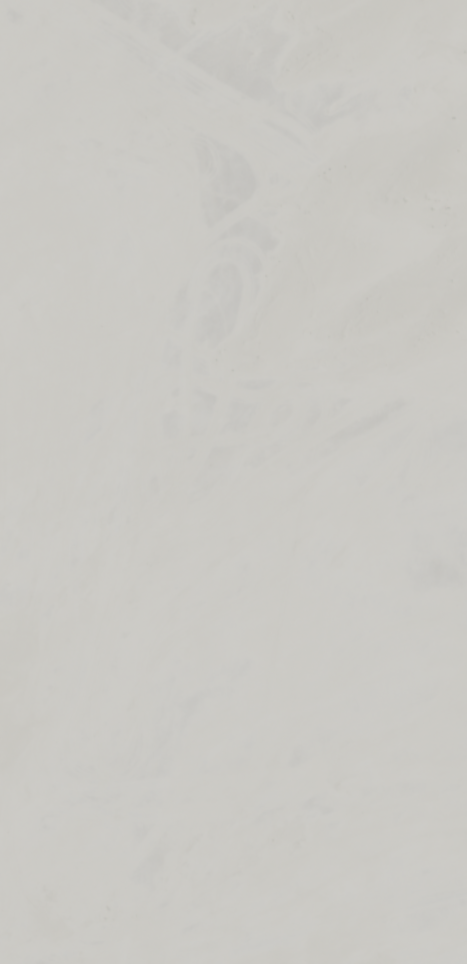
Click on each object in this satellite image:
building: (51, 23)
building: (389, 83)

